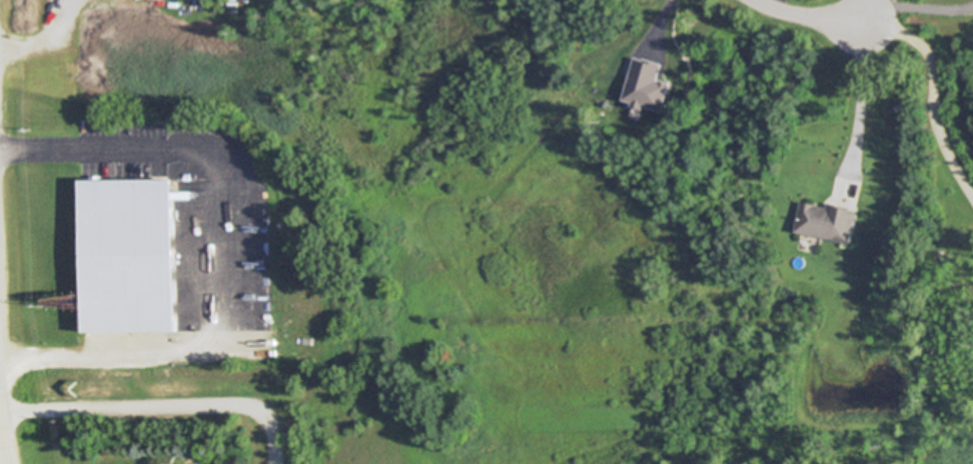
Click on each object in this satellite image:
road: (918, 9)
road: (808, 17)
road: (660, 26)
road: (48, 43)
building: (642, 89)
road: (936, 92)
road: (859, 104)
building: (179, 195)
building: (828, 220)
road: (235, 251)
building: (129, 254)
building: (72, 382)
road: (159, 410)
road: (3, 447)

